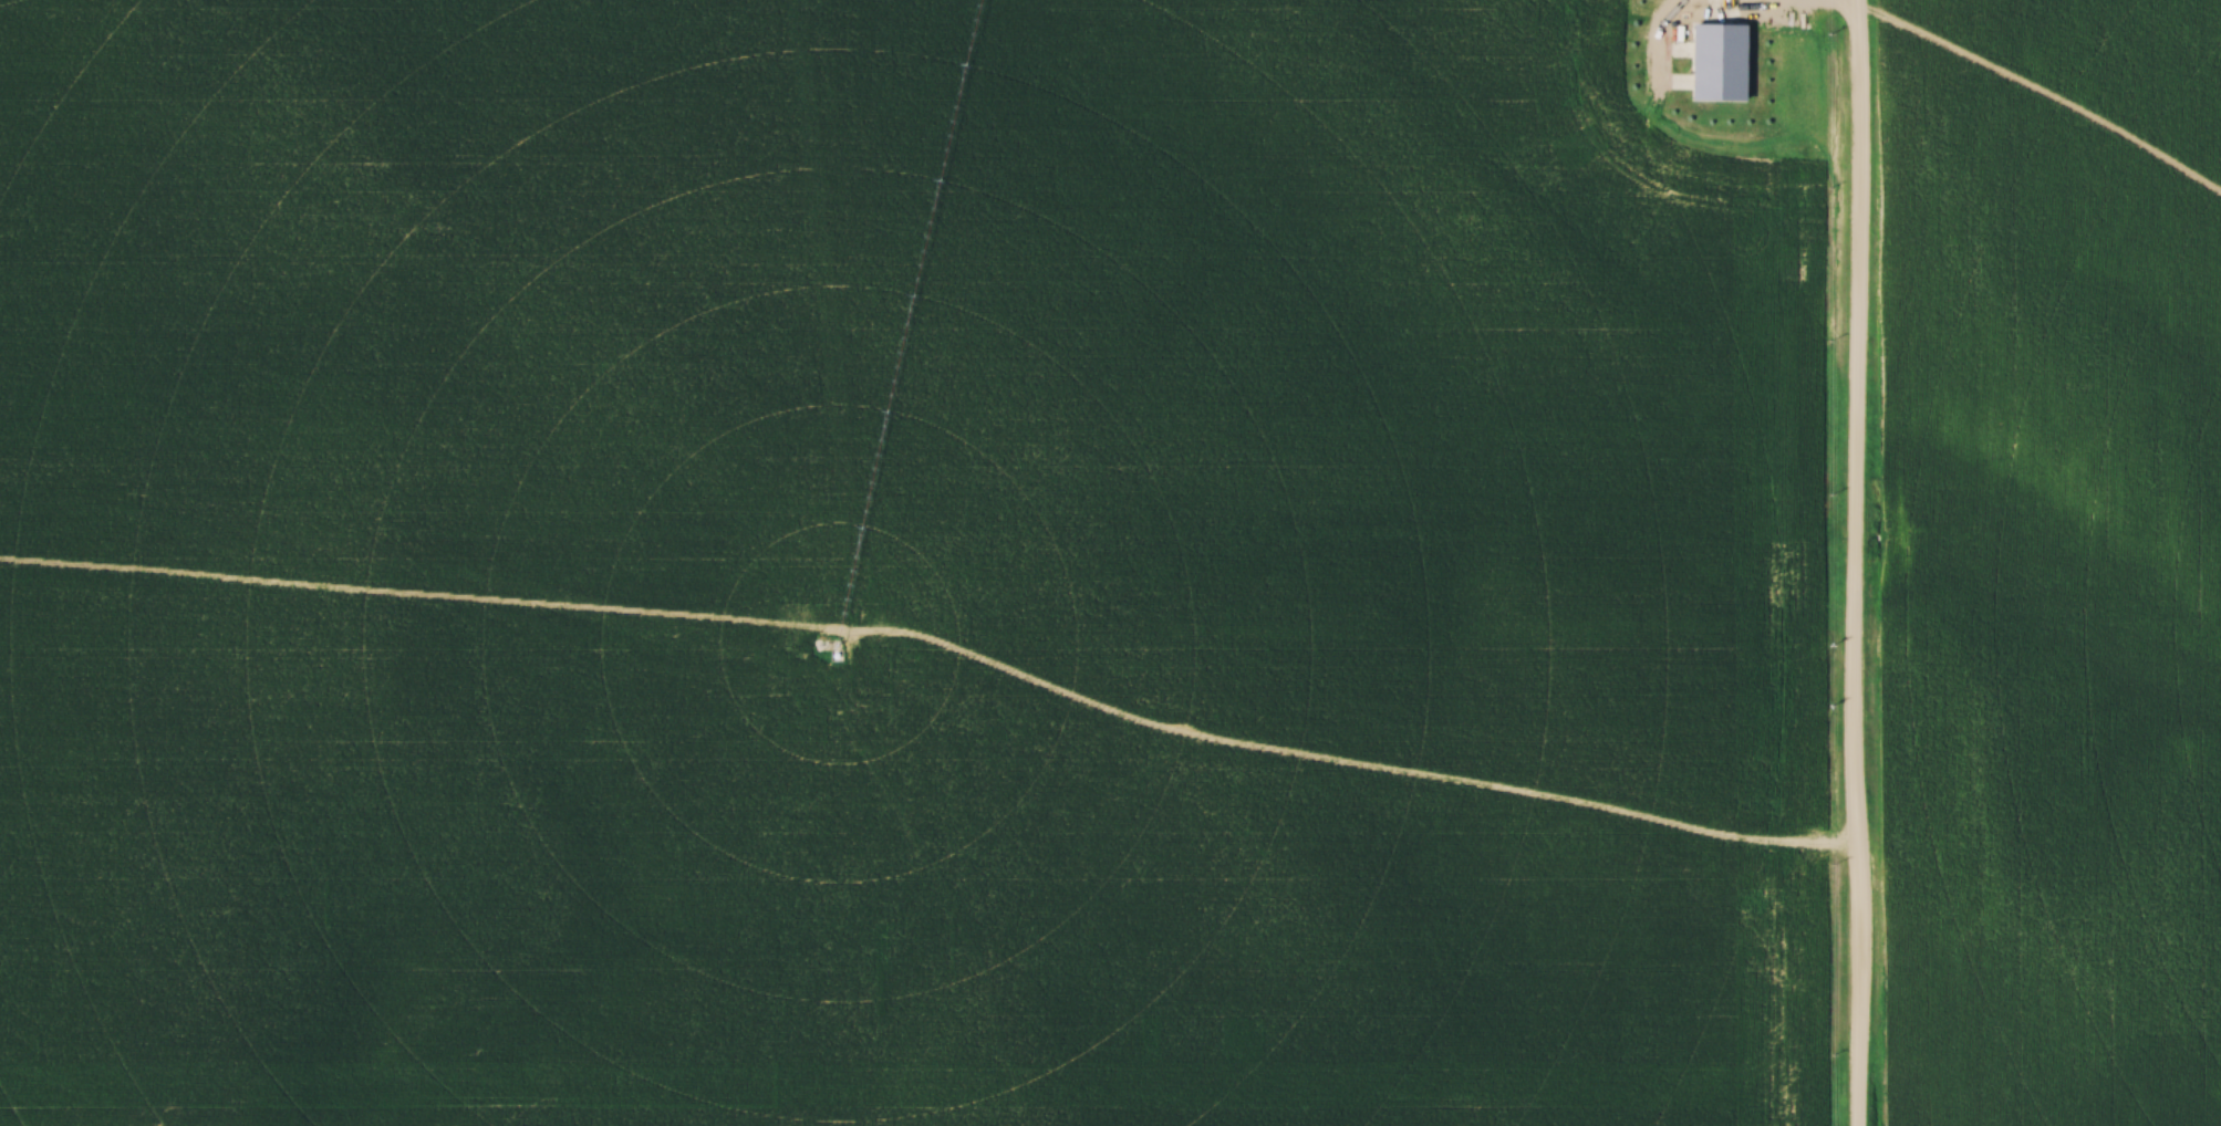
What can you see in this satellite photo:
road: (1850, 2)
road: (1859, 563)

